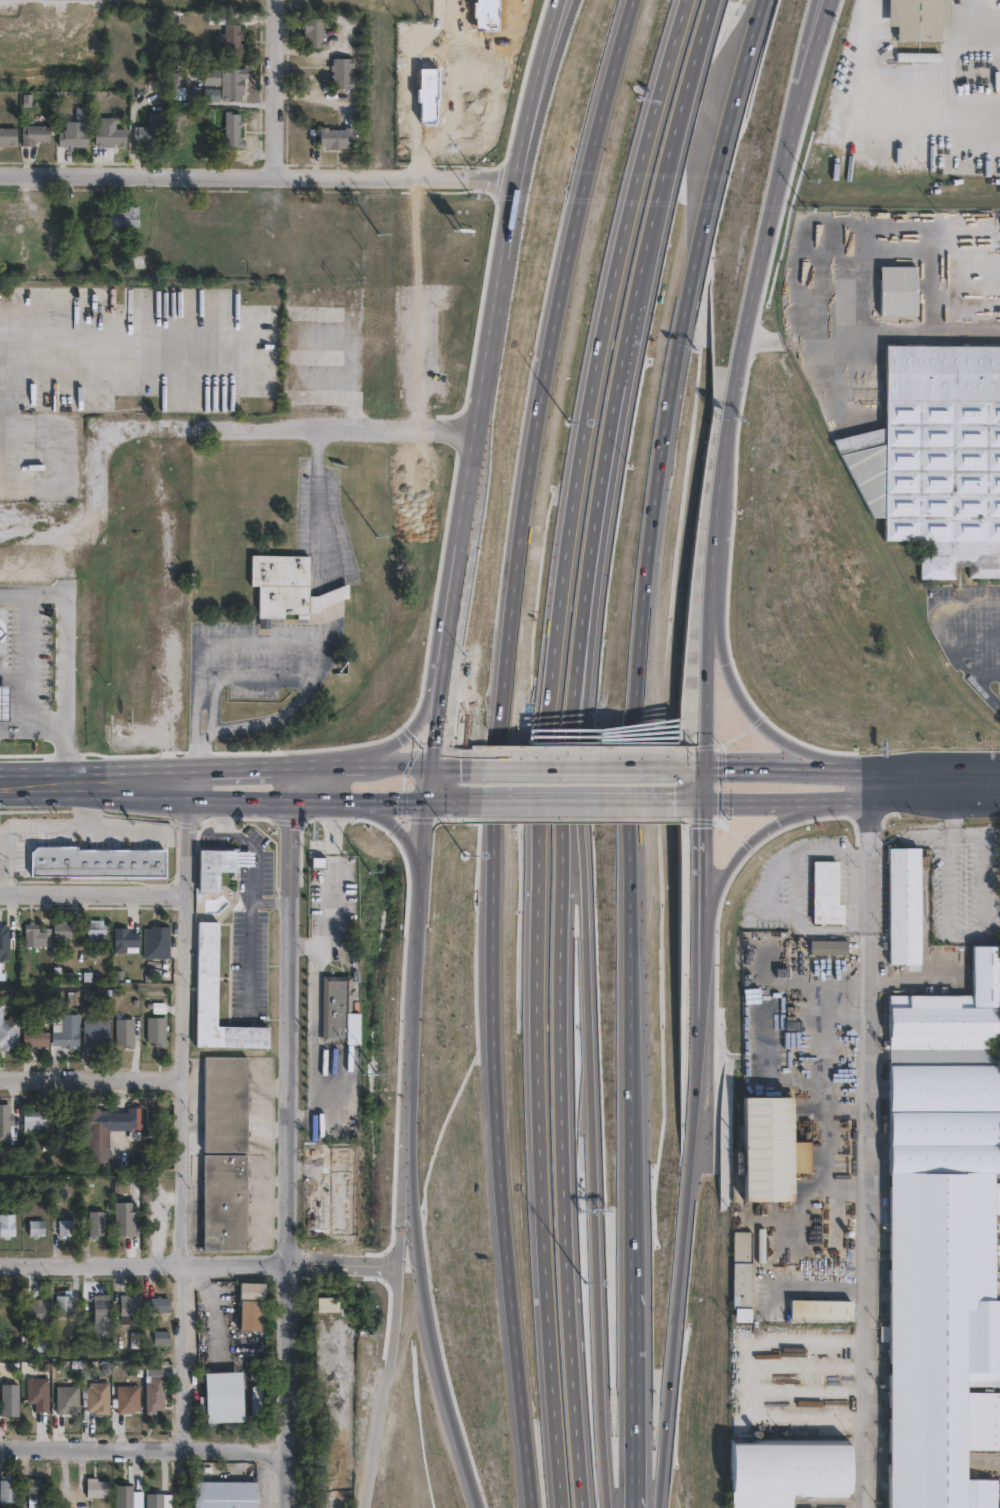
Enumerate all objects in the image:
road: (558, 13)
road: (560, 13)
building: (923, 18)
building: (315, 32)
building: (229, 36)
road: (806, 51)
building: (512, 57)
building: (343, 73)
building: (213, 78)
building: (155, 80)
building: (233, 84)
road: (416, 86)
road: (274, 89)
road: (686, 96)
road: (886, 108)
building: (75, 131)
building: (233, 131)
building: (34, 133)
building: (110, 134)
building: (8, 136)
building: (147, 136)
building: (336, 137)
road: (255, 177)
power tower: (378, 212)
building: (123, 216)
building: (900, 292)
road: (862, 322)
road: (17, 329)
road: (489, 337)
road: (680, 341)
road: (599, 346)
road: (548, 348)
road: (130, 349)
building: (475, 355)
road: (742, 396)
power tower: (377, 407)
road: (258, 428)
building: (937, 458)
road: (325, 503)
building: (288, 588)
power tower: (376, 619)
road: (939, 628)
building: (3, 630)
road: (972, 638)
road: (292, 642)
road: (66, 646)
road: (30, 660)
road: (15, 674)
road: (240, 678)
road: (987, 692)
building: (4, 700)
gas station: (4, 700)
road: (439, 706)
road: (752, 709)
road: (419, 717)
road: (33, 727)
road: (398, 759)
traffic signals: (431, 759)
road: (441, 759)
road: (569, 760)
road: (317, 761)
traffic signals: (709, 761)
road: (544, 763)
road: (782, 763)
road: (224, 765)
road: (499, 765)
road: (974, 765)
road: (88, 766)
road: (913, 766)
road: (428, 779)
road: (74, 780)
road: (286, 780)
road: (68, 793)
road: (211, 797)
road: (975, 798)
road: (310, 799)
road: (391, 799)
traffic signals: (426, 799)
road: (571, 800)
road: (829, 801)
road: (699, 802)
traffic signals: (708, 803)
road: (950, 819)
road: (215, 829)
road: (396, 831)
road: (926, 838)
road: (250, 844)
power tower: (373, 846)
road: (563, 846)
road: (582, 847)
road: (739, 853)
building: (96, 862)
building: (213, 867)
road: (706, 872)
building: (420, 877)
road: (796, 888)
road: (90, 891)
building: (828, 893)
road: (334, 898)
building: (905, 904)
building: (95, 929)
building: (61, 930)
building: (414, 934)
road: (946, 935)
building: (37, 936)
road: (249, 939)
building: (124, 940)
building: (4, 942)
building: (157, 943)
building: (830, 948)
road: (415, 956)
building: (207, 974)
road: (703, 981)
road: (624, 987)
building: (337, 1010)
building: (8, 1031)
building: (156, 1031)
building: (64, 1033)
building: (96, 1033)
building: (125, 1033)
building: (36, 1039)
building: (400, 1044)
road: (326, 1054)
road: (91, 1078)
power tower: (371, 1084)
road: (183, 1108)
building: (135, 1119)
building: (35, 1122)
building: (67, 1124)
building: (6, 1127)
building: (96, 1130)
building: (502, 1136)
road: (872, 1136)
building: (770, 1149)
road: (290, 1153)
building: (225, 1154)
road: (498, 1167)
road: (539, 1167)
building: (342, 1201)
building: (125, 1219)
building: (7, 1225)
building: (97, 1225)
building: (66, 1228)
building: (36, 1229)
building: (944, 1239)
road: (200, 1262)
road: (680, 1264)
building: (742, 1275)
building: (520, 1292)
building: (251, 1293)
building: (101, 1303)
building: (64, 1305)
building: (328, 1305)
building: (157, 1306)
building: (823, 1309)
building: (129, 1310)
building: (3, 1312)
road: (396, 1312)
building: (37, 1314)
road: (424, 1314)
power tower: (369, 1321)
building: (161, 1337)
building: (38, 1394)
building: (155, 1394)
road: (626, 1396)
building: (222, 1397)
building: (98, 1399)
building: (67, 1400)
building: (128, 1400)
building: (10, 1401)
road: (146, 1450)
building: (789, 1472)
building: (99, 1488)
building: (35, 1489)
building: (9, 1490)
building: (227, 1495)
building: (124, 1497)
building: (154, 1501)

